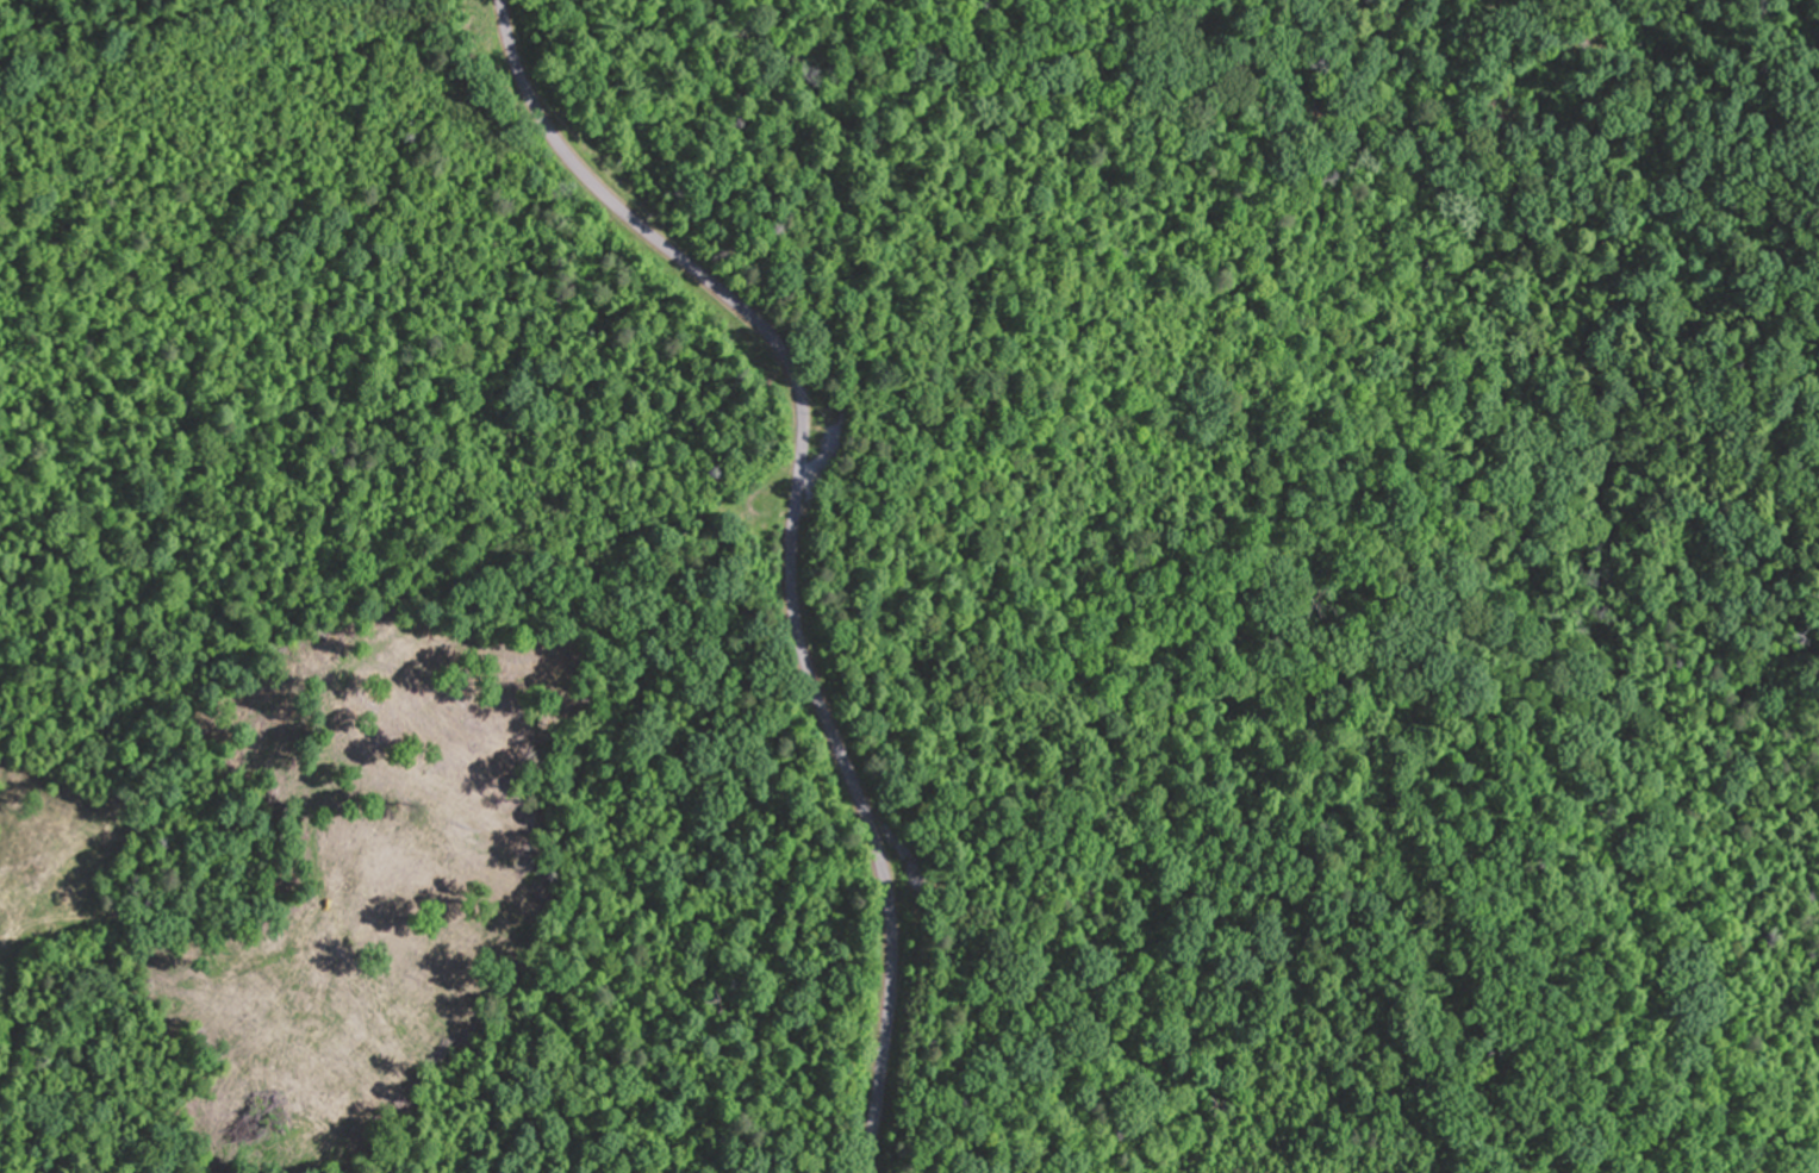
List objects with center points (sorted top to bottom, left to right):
road: (790, 536)

